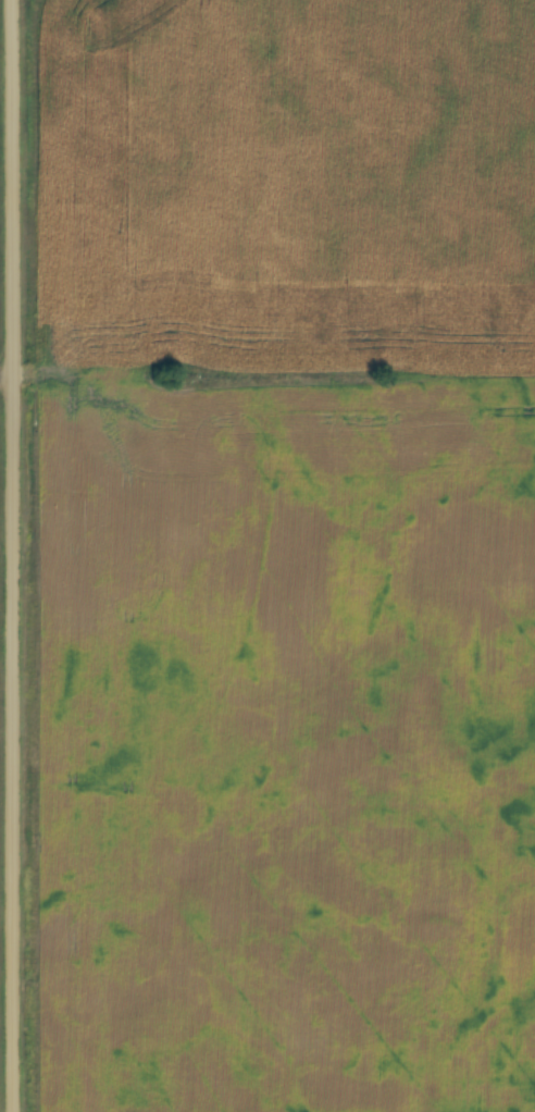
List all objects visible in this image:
road: (11, 556)

